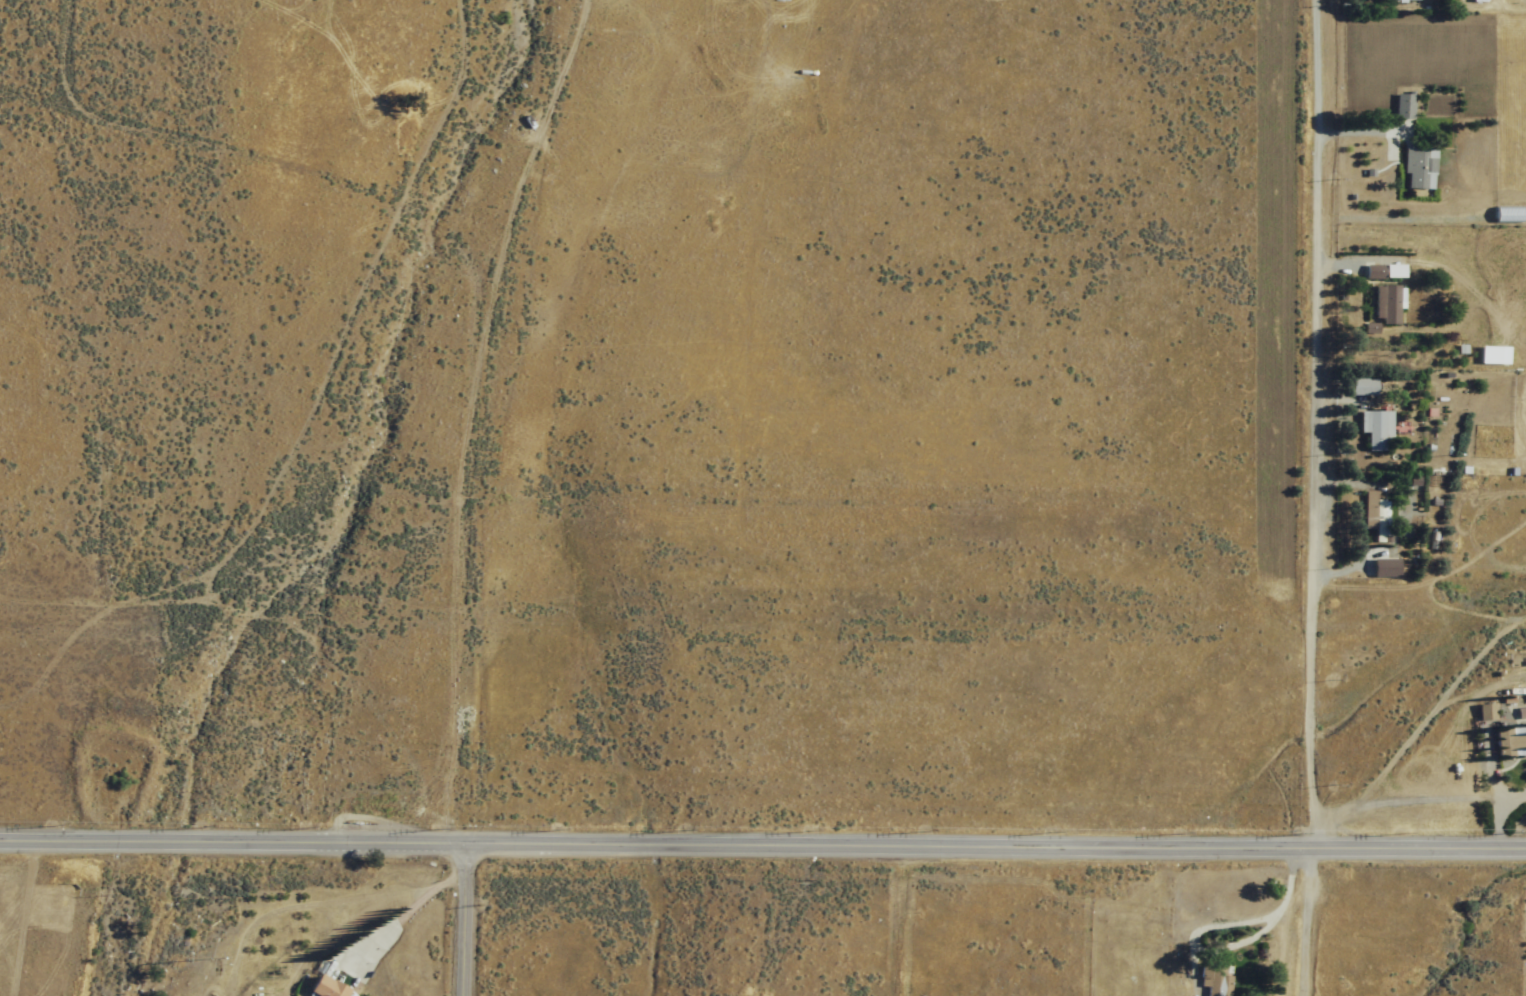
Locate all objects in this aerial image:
building: (1404, 105)
building: (1419, 167)
building: (1374, 272)
building: (1386, 304)
building: (1493, 356)
building: (1362, 387)
building: (1375, 428)
road: (1307, 498)
building: (1380, 522)
building: (1383, 567)
building: (1485, 712)
building: (1511, 743)
road: (762, 838)
road: (461, 917)
building: (1218, 980)
building: (325, 988)

